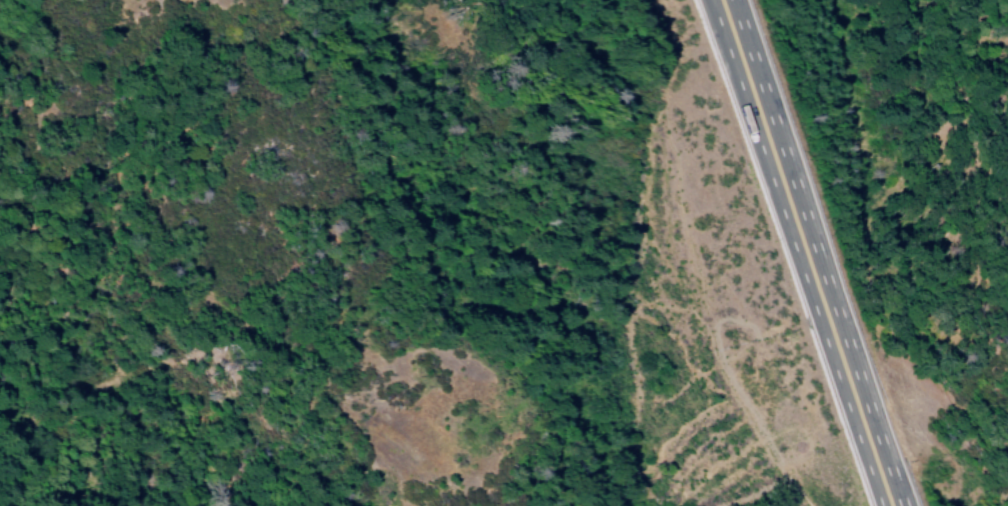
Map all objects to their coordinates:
road: (811, 253)

